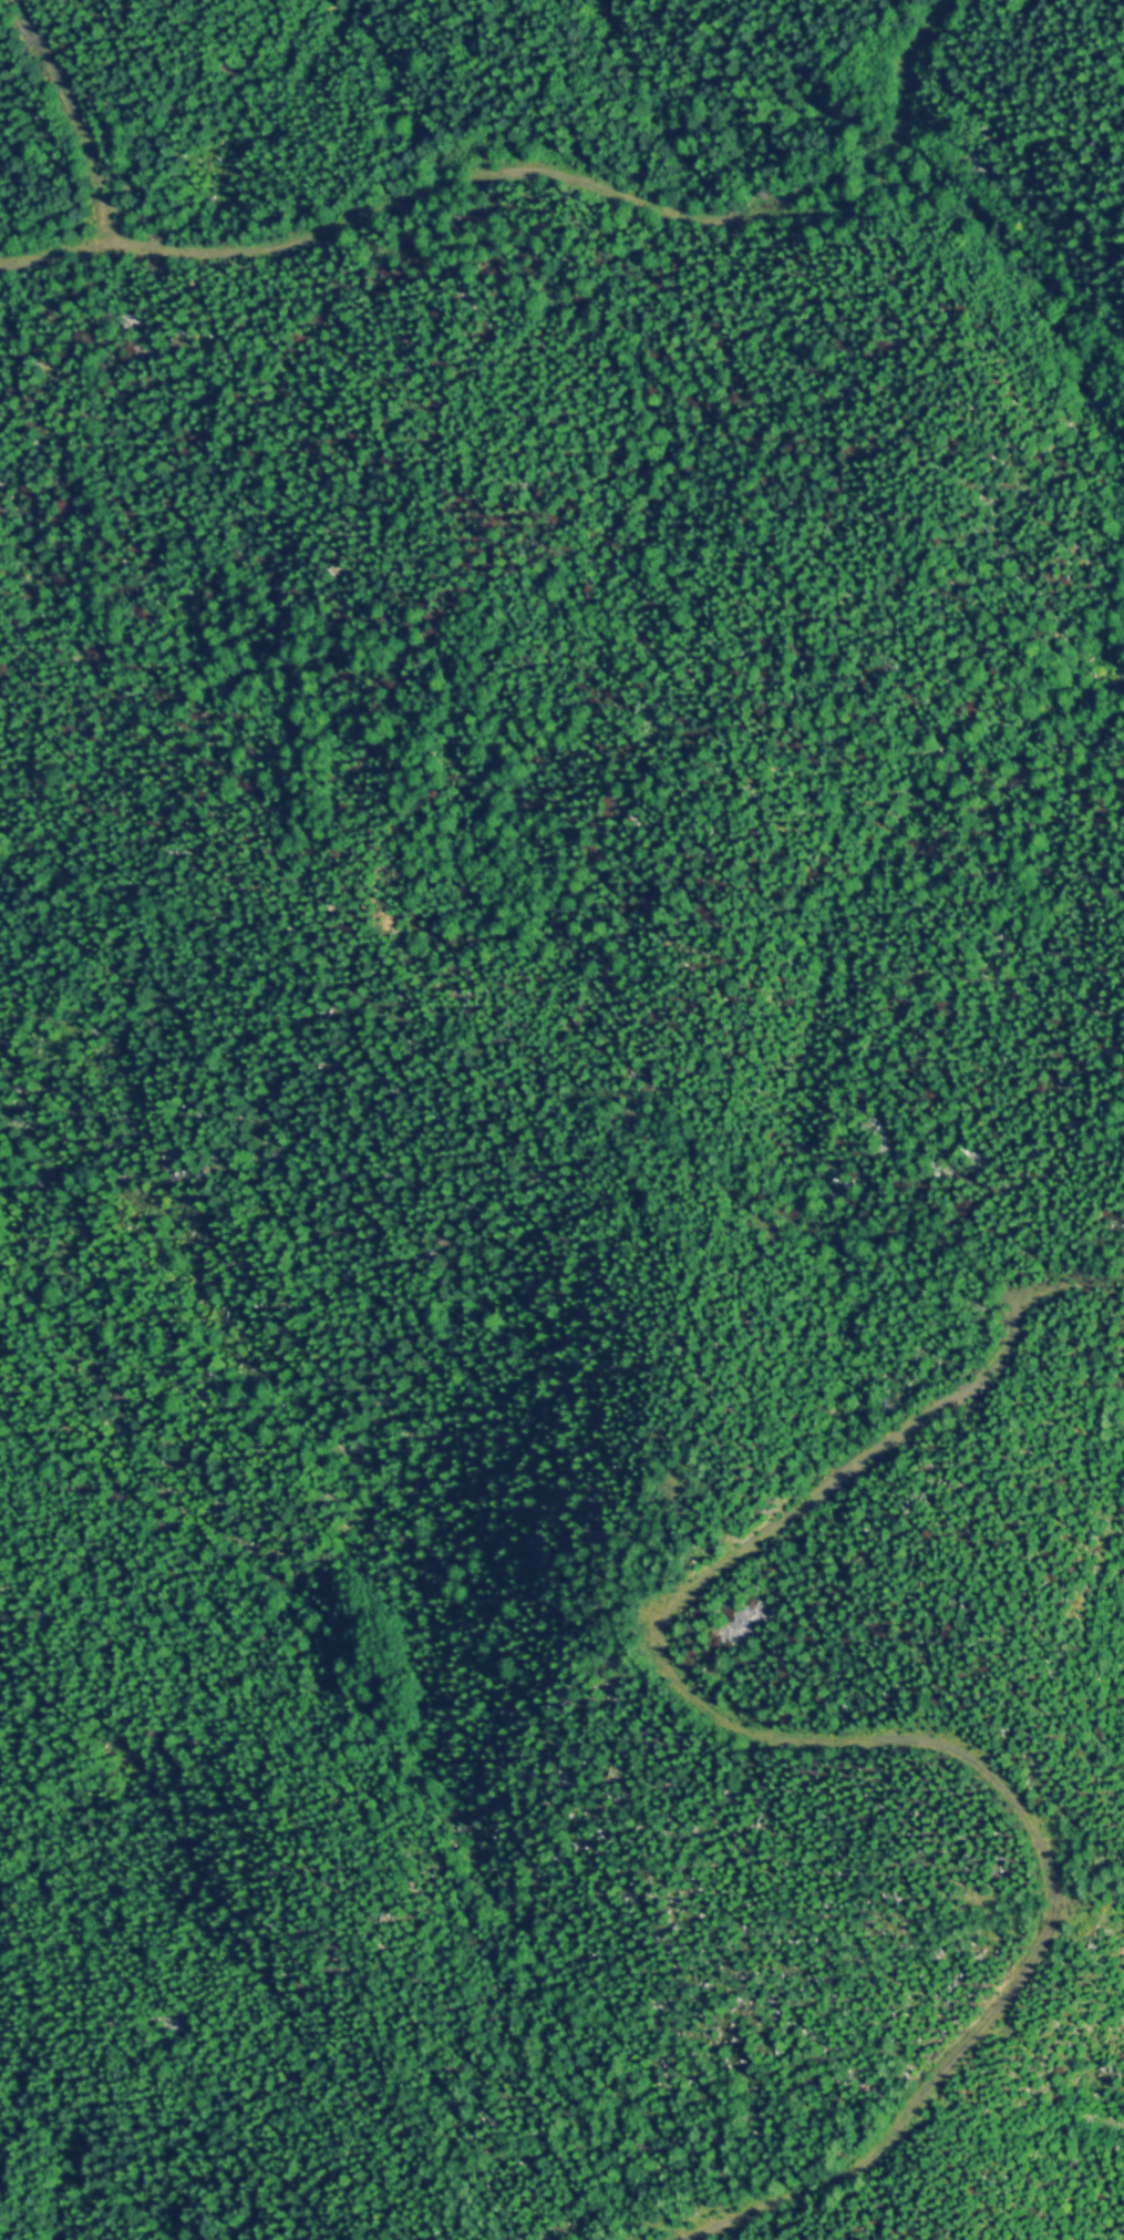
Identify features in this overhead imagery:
road: (89, 1959)

